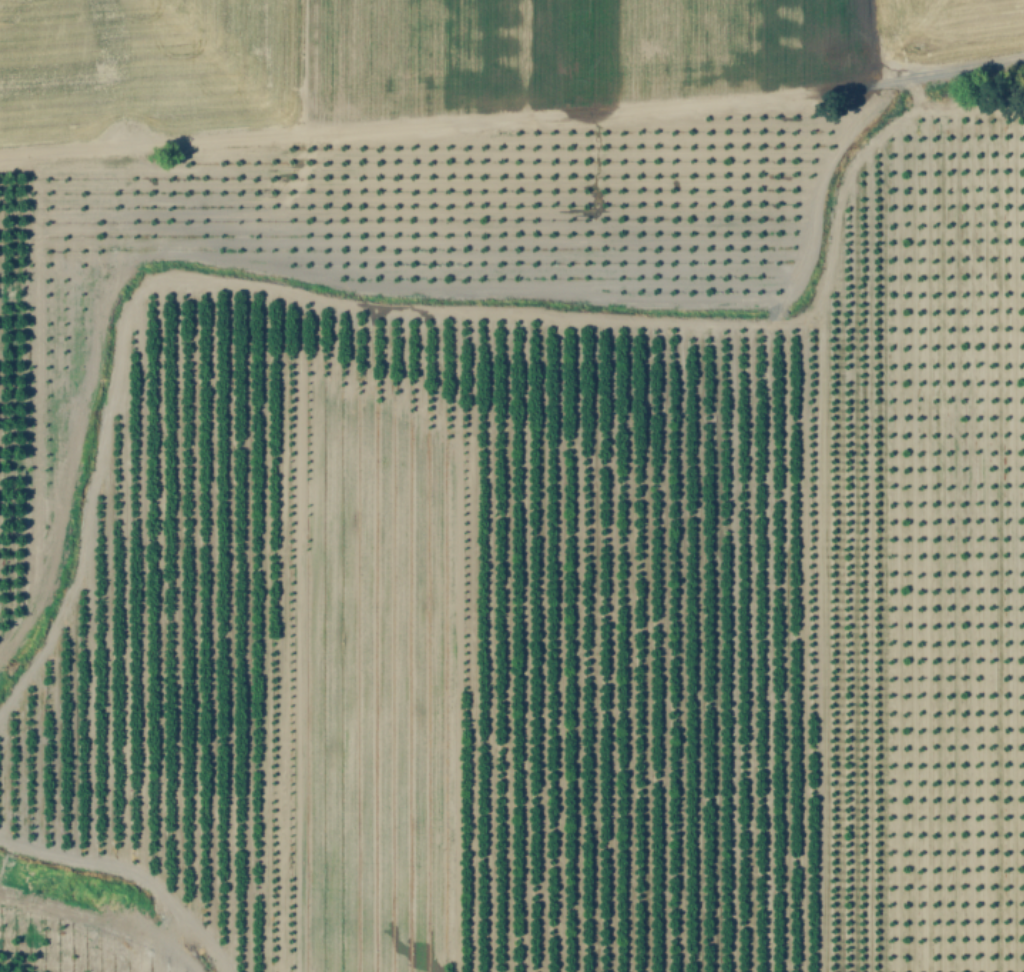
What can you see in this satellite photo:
crop: (918, 638)
building: (36, 752)

